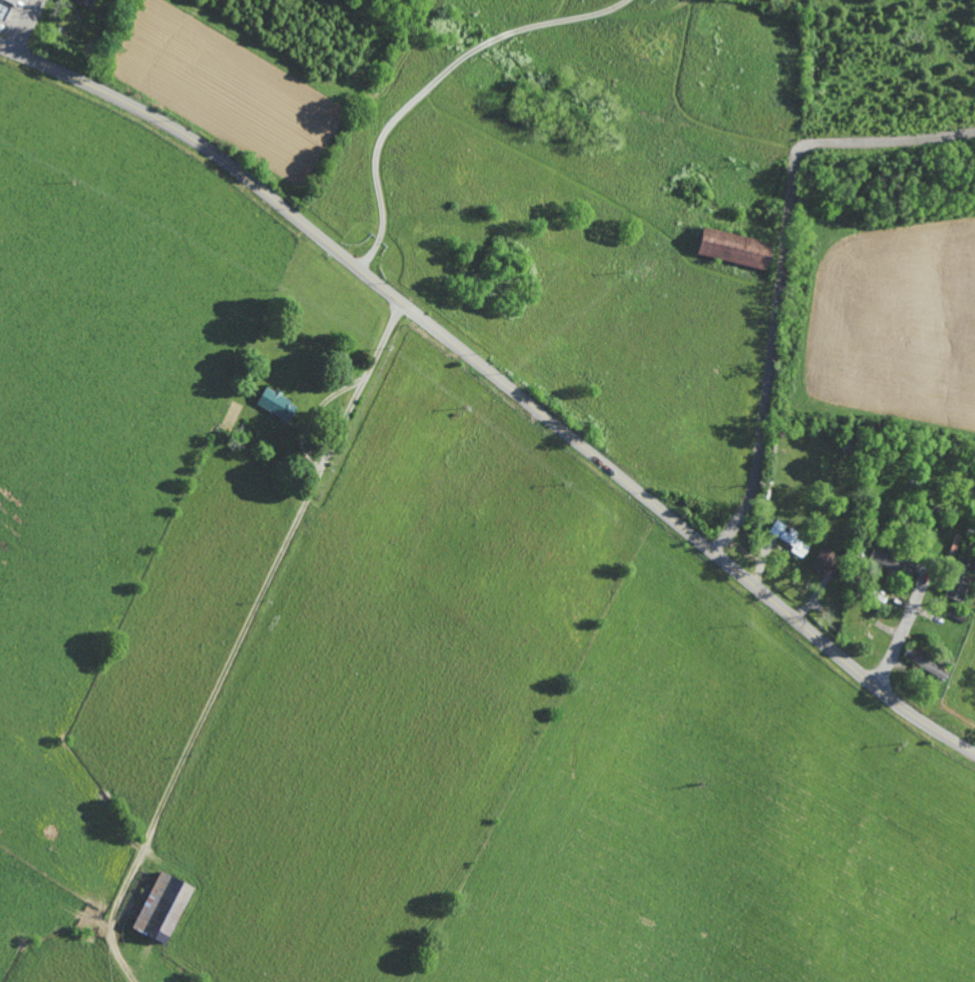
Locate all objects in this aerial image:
building: (86, 2)
building: (6, 8)
road: (26, 26)
road: (431, 83)
building: (733, 248)
road: (781, 266)
wastewater plant: (896, 322)
road: (499, 382)
building: (276, 403)
building: (790, 538)
building: (826, 560)
building: (890, 562)
building: (959, 578)
road: (902, 634)
road: (236, 642)
building: (924, 663)
wastewater plant: (962, 686)
building: (162, 907)

